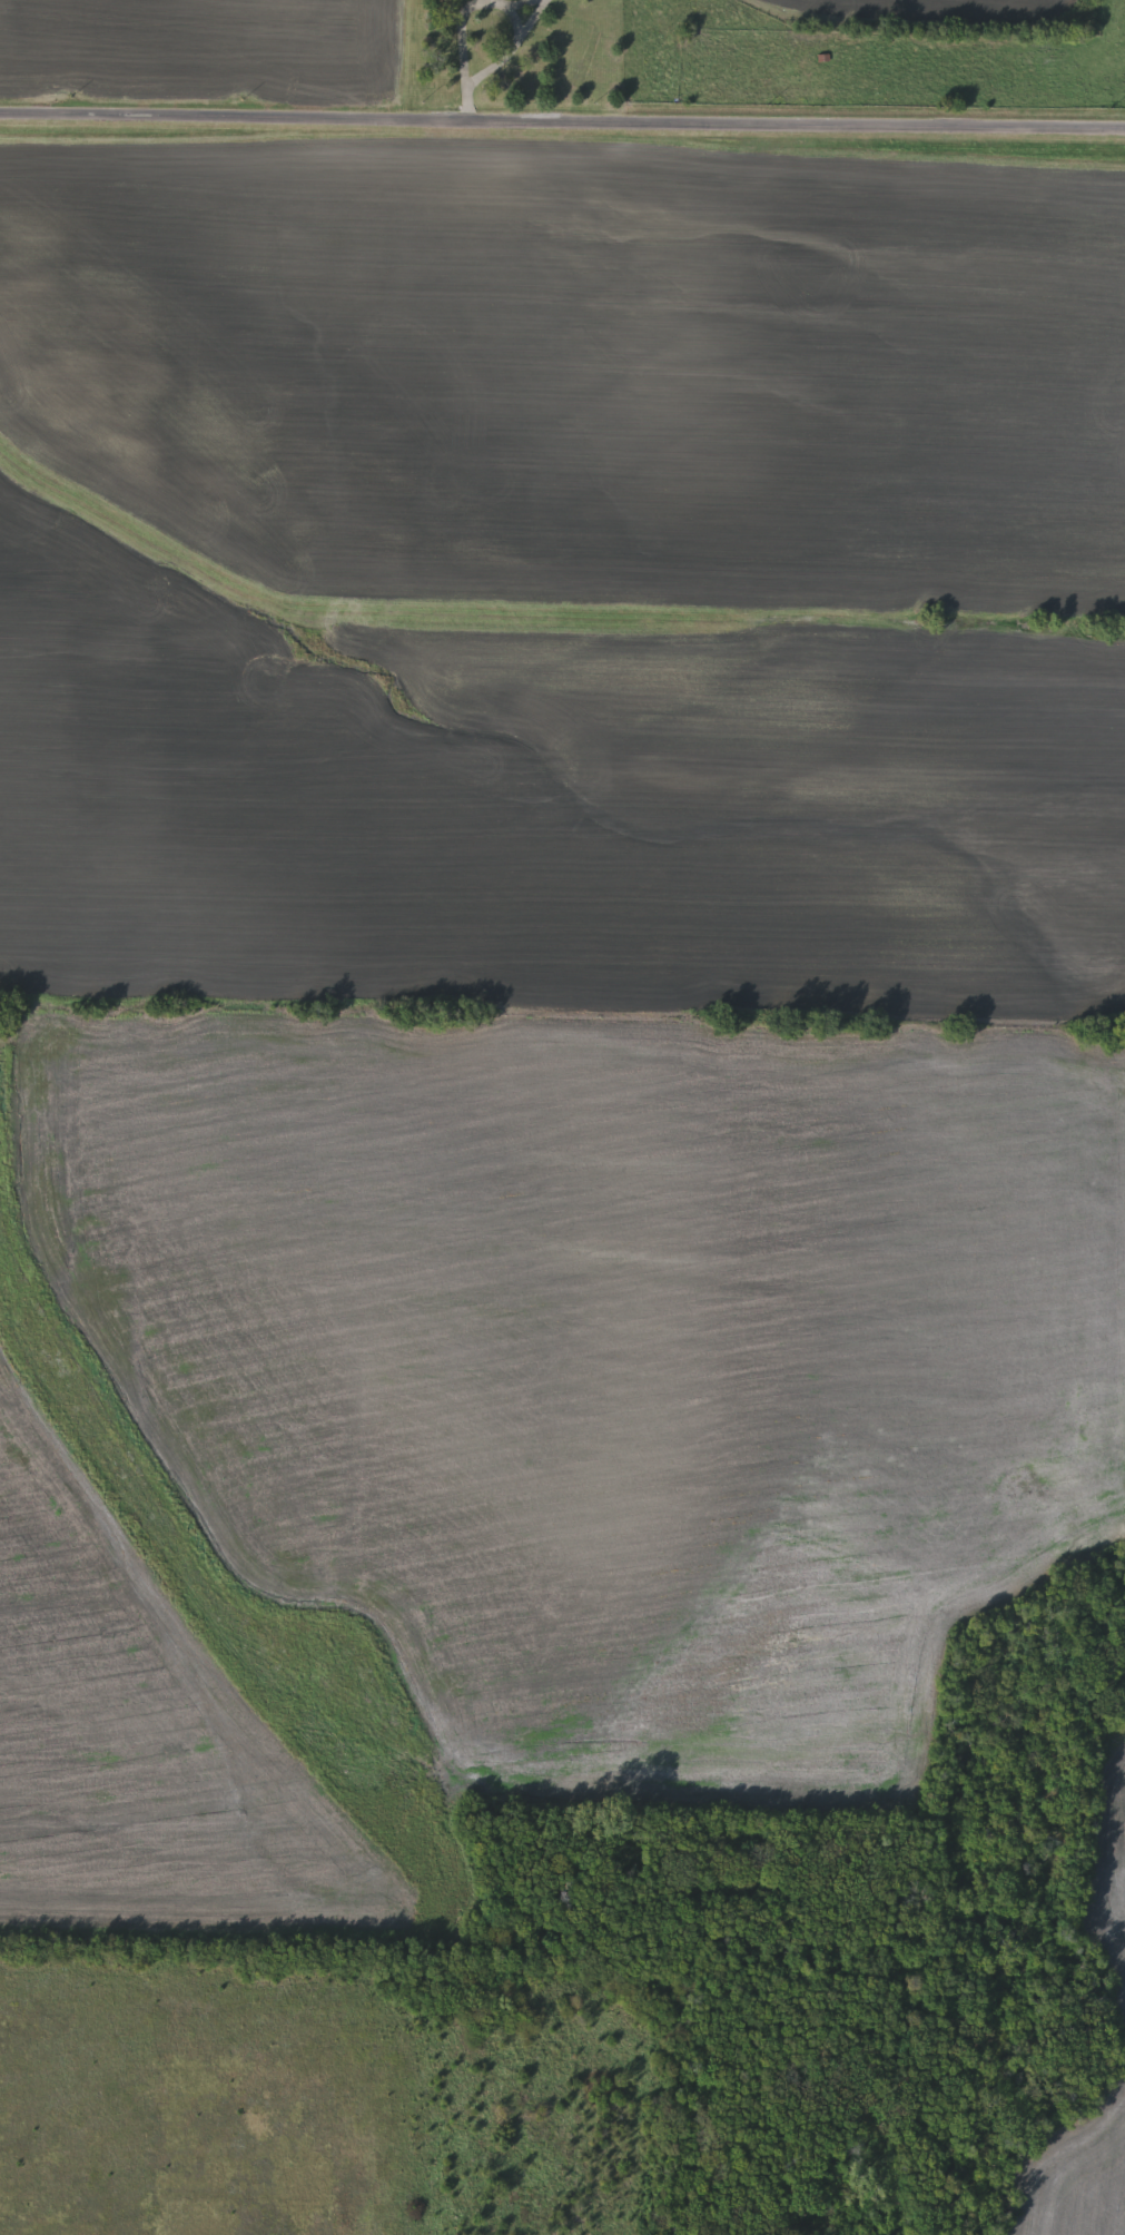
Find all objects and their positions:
road: (475, 6)
road: (562, 125)

